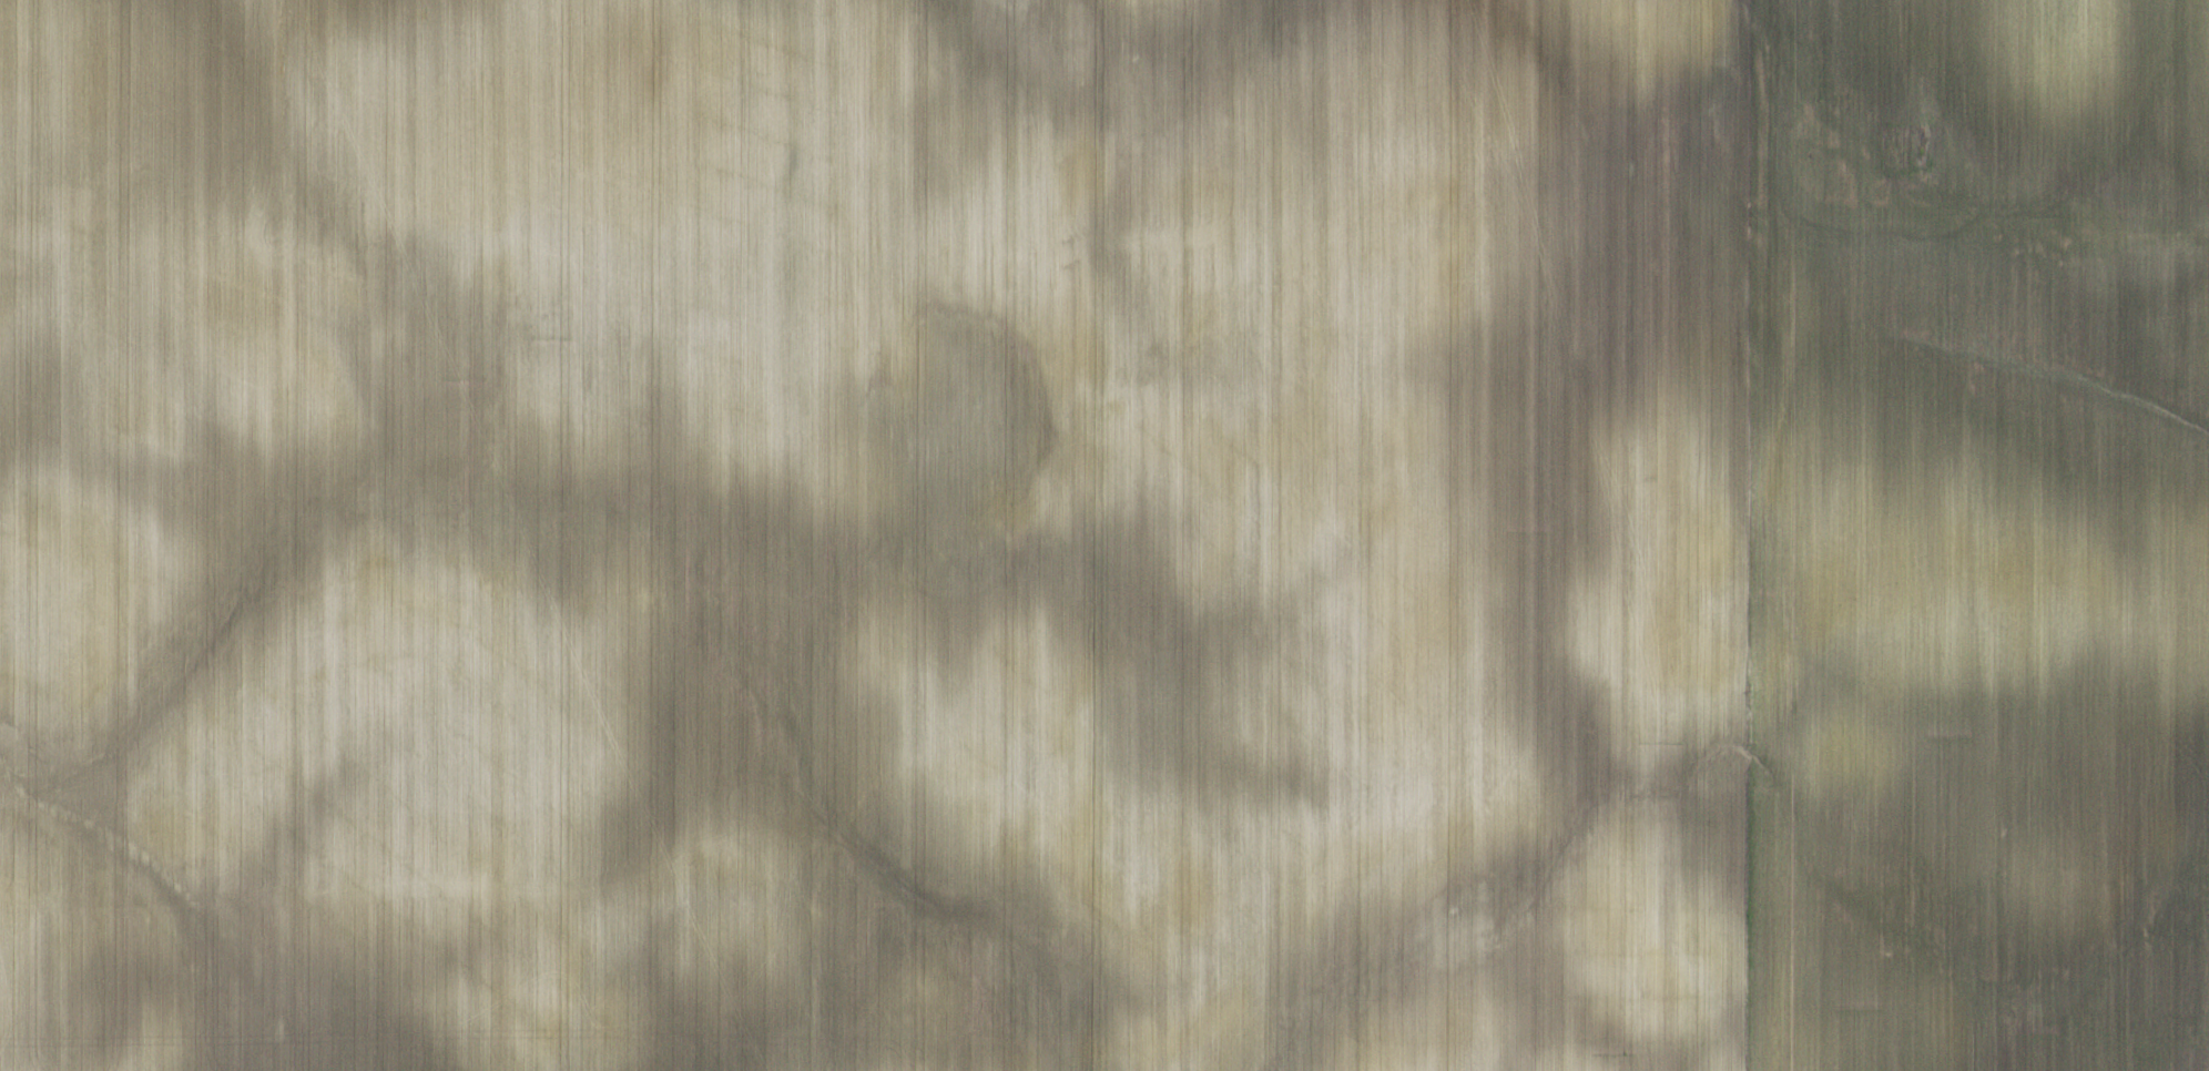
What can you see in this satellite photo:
crop: (1104, 535)

